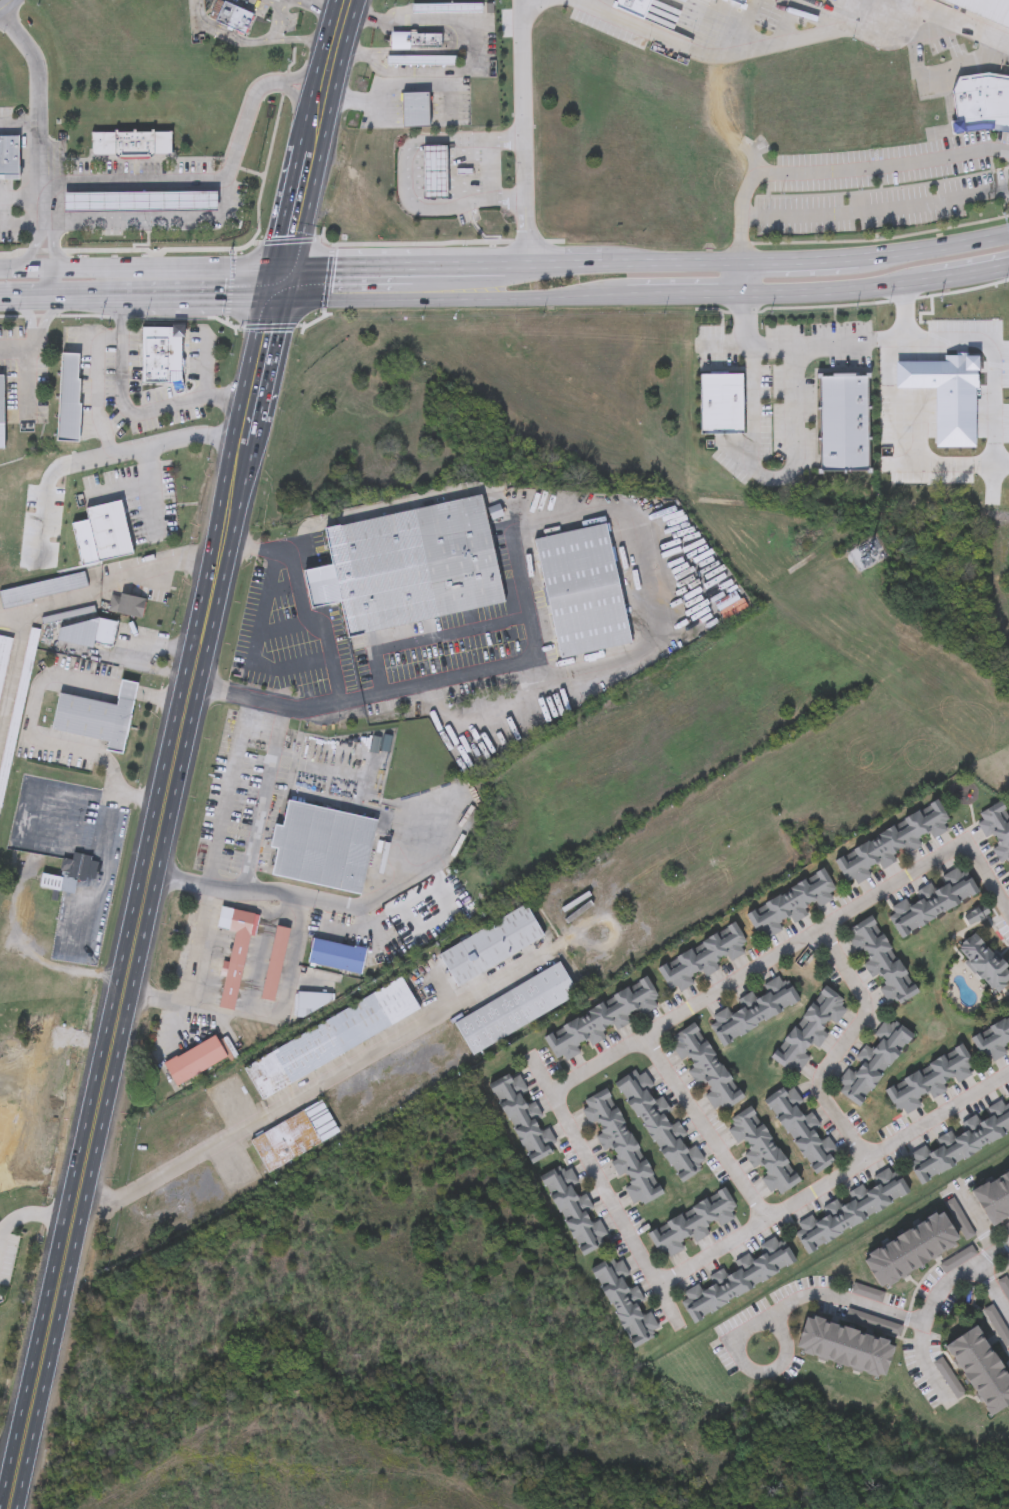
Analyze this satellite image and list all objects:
road: (280, 1)
road: (284, 1)
building: (741, 1)
building: (999, 4)
road: (314, 5)
building: (637, 6)
road: (9, 7)
road: (346, 7)
building: (446, 8)
building: (230, 16)
road: (280, 21)
road: (341, 31)
road: (799, 39)
building: (415, 40)
road: (257, 41)
road: (470, 50)
building: (420, 61)
road: (331, 71)
road: (386, 98)
building: (981, 103)
building: (415, 110)
road: (19, 123)
road: (522, 135)
building: (133, 144)
road: (38, 148)
building: (2, 155)
building: (12, 155)
road: (822, 171)
building: (436, 172)
gas station: (436, 172)
road: (406, 175)
road: (218, 184)
road: (305, 189)
road: (20, 193)
building: (141, 202)
gas station: (141, 202)
road: (878, 211)
road: (935, 246)
road: (803, 261)
road: (684, 263)
road: (569, 267)
road: (64, 271)
road: (490, 277)
traffic signals: (284, 284)
road: (295, 284)
road: (487, 291)
road: (68, 294)
road: (758, 295)
road: (6, 297)
road: (30, 318)
road: (47, 318)
road: (19, 346)
road: (984, 346)
road: (797, 347)
road: (726, 348)
building: (160, 352)
road: (96, 358)
building: (71, 365)
road: (122, 377)
road: (177, 404)
building: (722, 404)
building: (70, 410)
road: (256, 412)
building: (2, 413)
building: (844, 424)
road: (169, 441)
road: (898, 443)
road: (782, 478)
road: (149, 490)
building: (108, 531)
road: (257, 547)
building: (866, 555)
building: (408, 567)
road: (116, 582)
building: (43, 590)
building: (582, 592)
road: (525, 596)
building: (127, 605)
building: (68, 615)
road: (650, 625)
road: (316, 627)
building: (89, 633)
building: (4, 659)
road: (128, 692)
road: (168, 701)
building: (17, 710)
building: (96, 717)
road: (46, 743)
road: (233, 789)
road: (46, 791)
road: (267, 797)
building: (996, 830)
building: (891, 844)
building: (322, 848)
road: (103, 868)
road: (416, 870)
building: (1007, 873)
building: (72, 876)
building: (931, 901)
building: (790, 905)
building: (491, 946)
building: (235, 951)
building: (336, 957)
building: (701, 960)
building: (880, 961)
building: (984, 963)
building: (274, 964)
road: (195, 974)
building: (321, 976)
building: (314, 1002)
road: (284, 1005)
building: (515, 1009)
building: (752, 1010)
building: (601, 1021)
road: (122, 1025)
building: (809, 1030)
building: (331, 1039)
building: (993, 1041)
road: (842, 1043)
building: (194, 1061)
building: (872, 1062)
building: (705, 1069)
building: (929, 1081)
road: (310, 1093)
building: (524, 1117)
building: (660, 1126)
road: (703, 1126)
road: (565, 1127)
building: (802, 1129)
building: (294, 1137)
building: (959, 1142)
building: (621, 1148)
building: (761, 1152)
building: (994, 1196)
building: (575, 1210)
building: (850, 1210)
road: (22, 1222)
building: (691, 1225)
road: (979, 1225)
building: (919, 1246)
building: (737, 1279)
road: (994, 1291)
building: (625, 1301)
road: (933, 1304)
road: (774, 1309)
building: (846, 1348)
building: (982, 1372)
road: (171, 1494)
road: (355, 1497)

